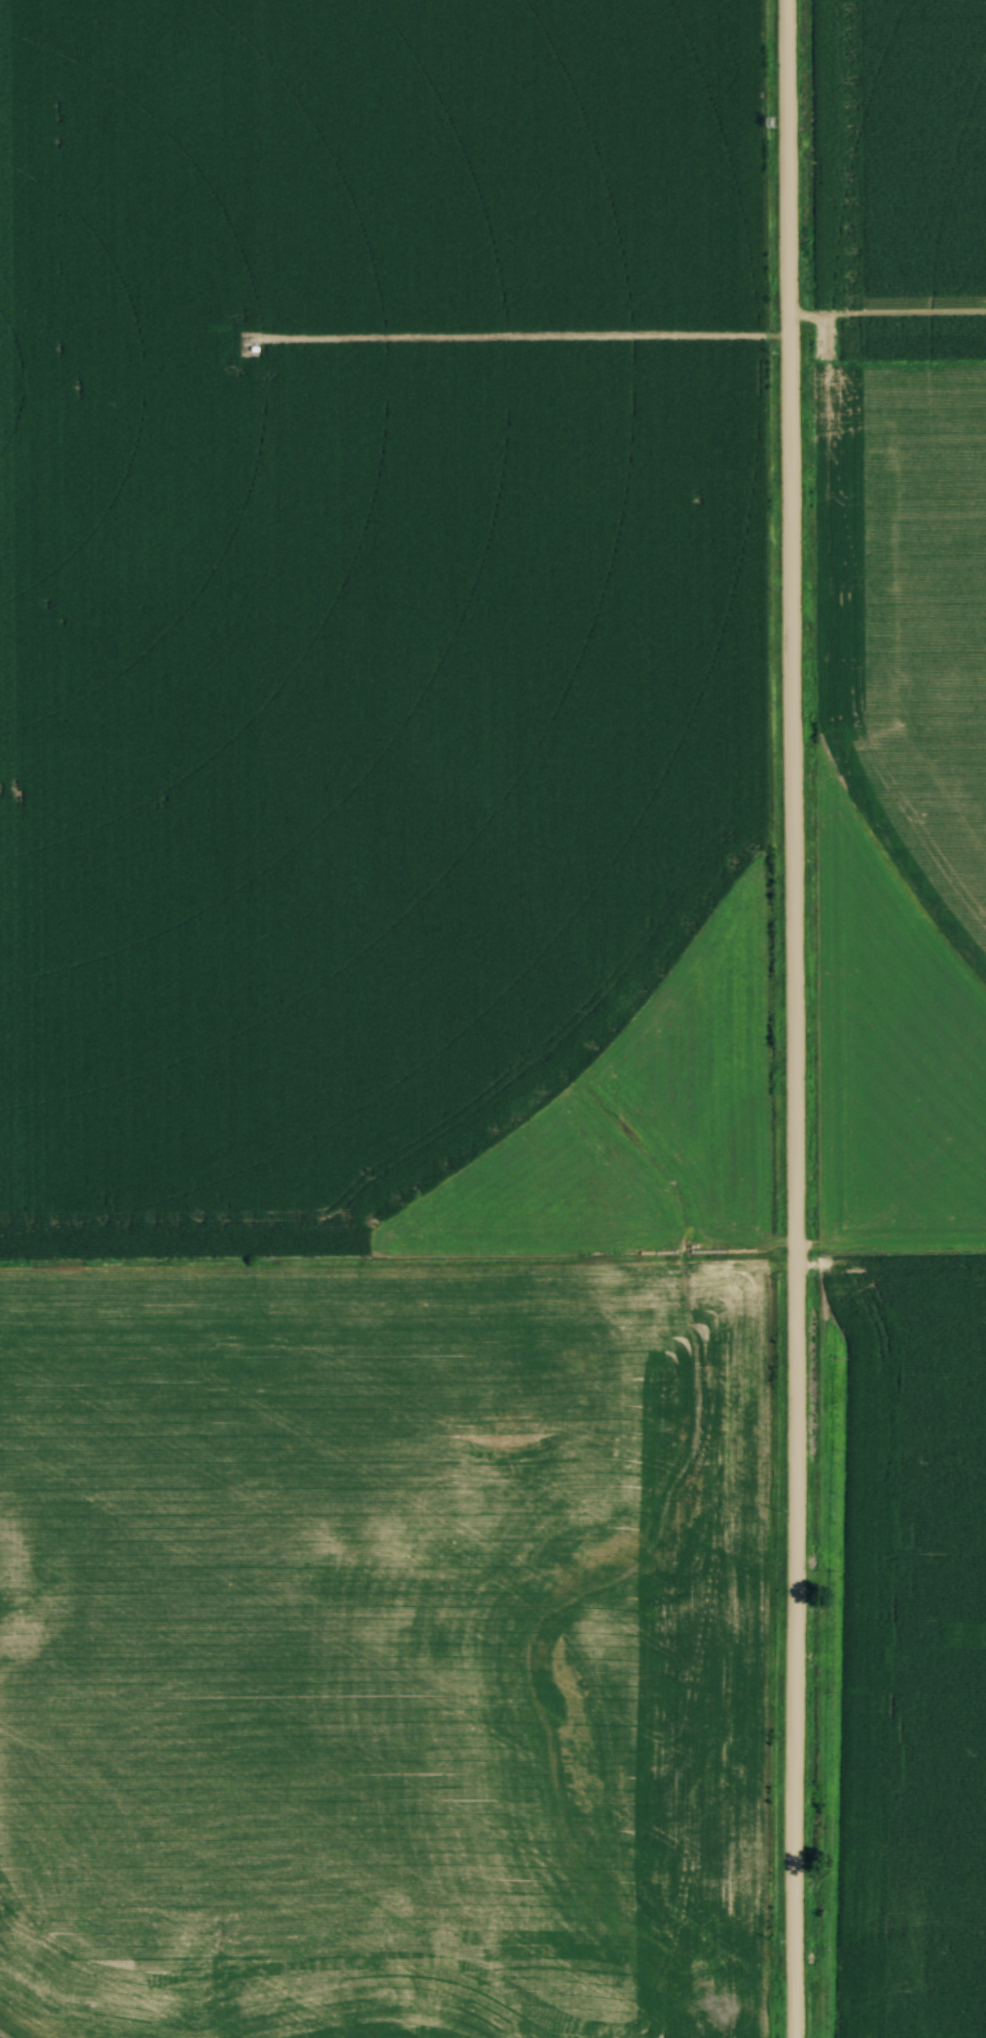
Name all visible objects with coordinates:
road: (794, 1018)

